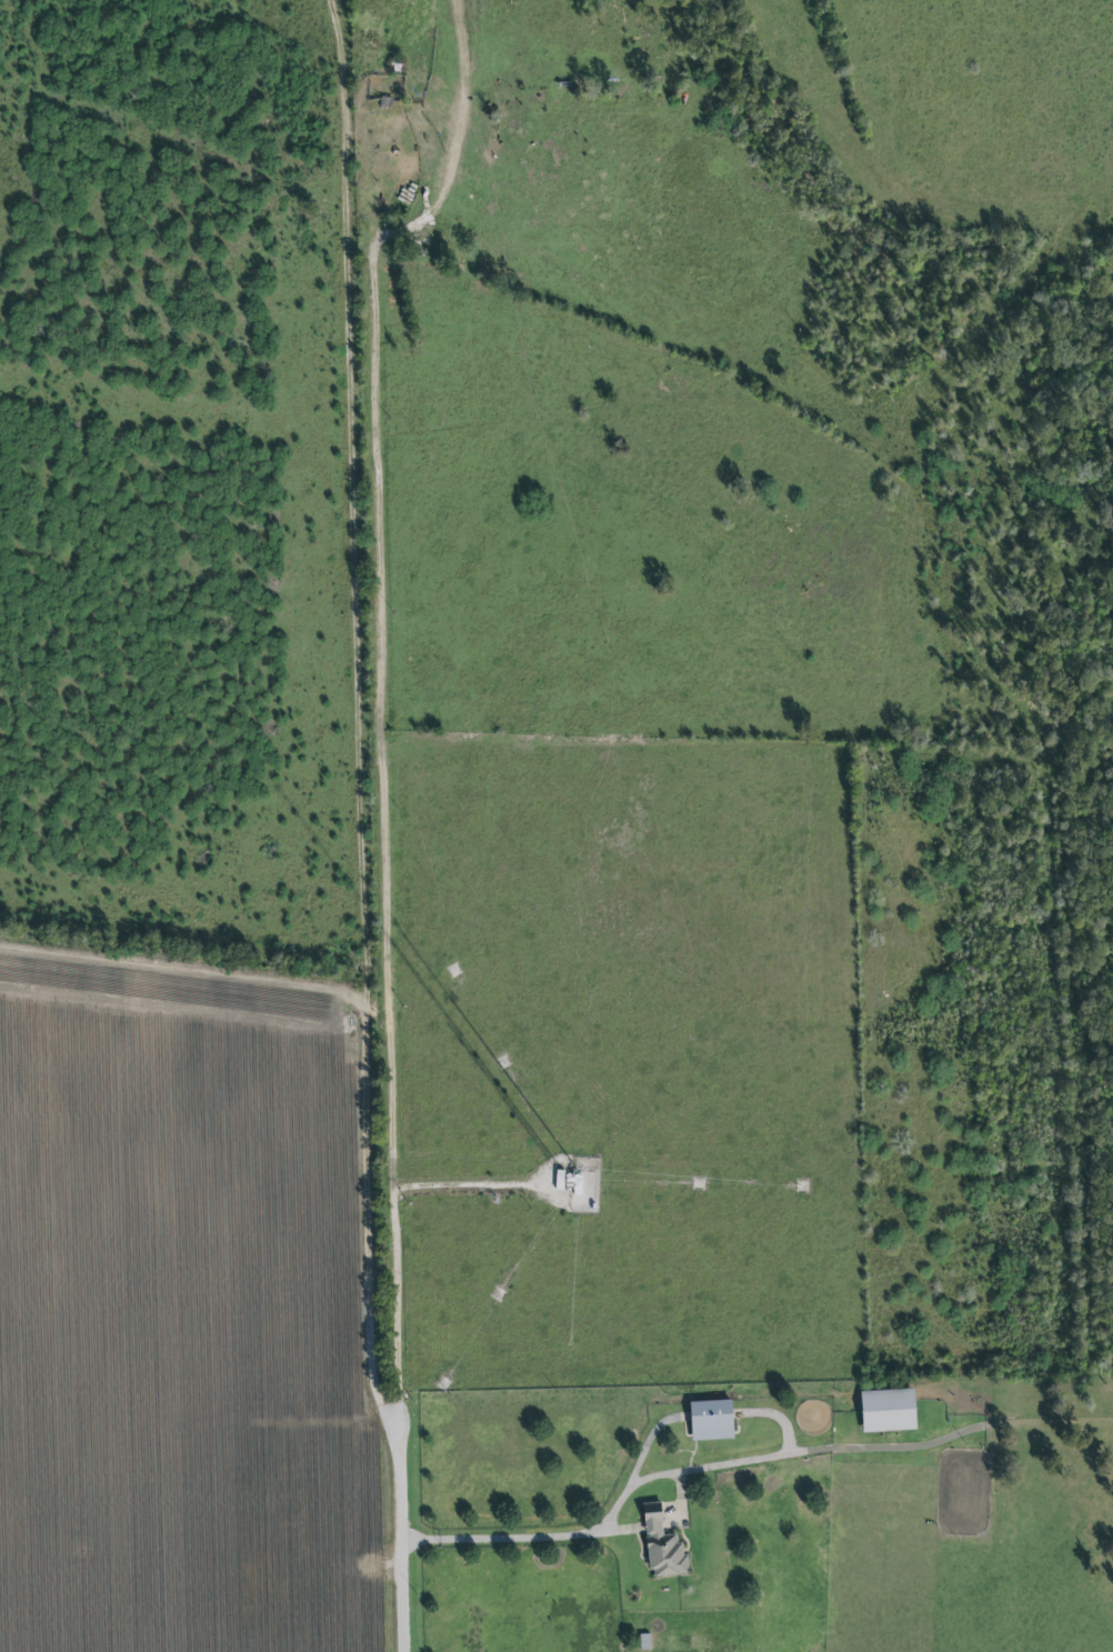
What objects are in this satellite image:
road: (460, 160)
road: (380, 825)
road: (362, 1044)
building: (889, 1411)
building: (712, 1421)
road: (507, 1539)
building: (662, 1548)

